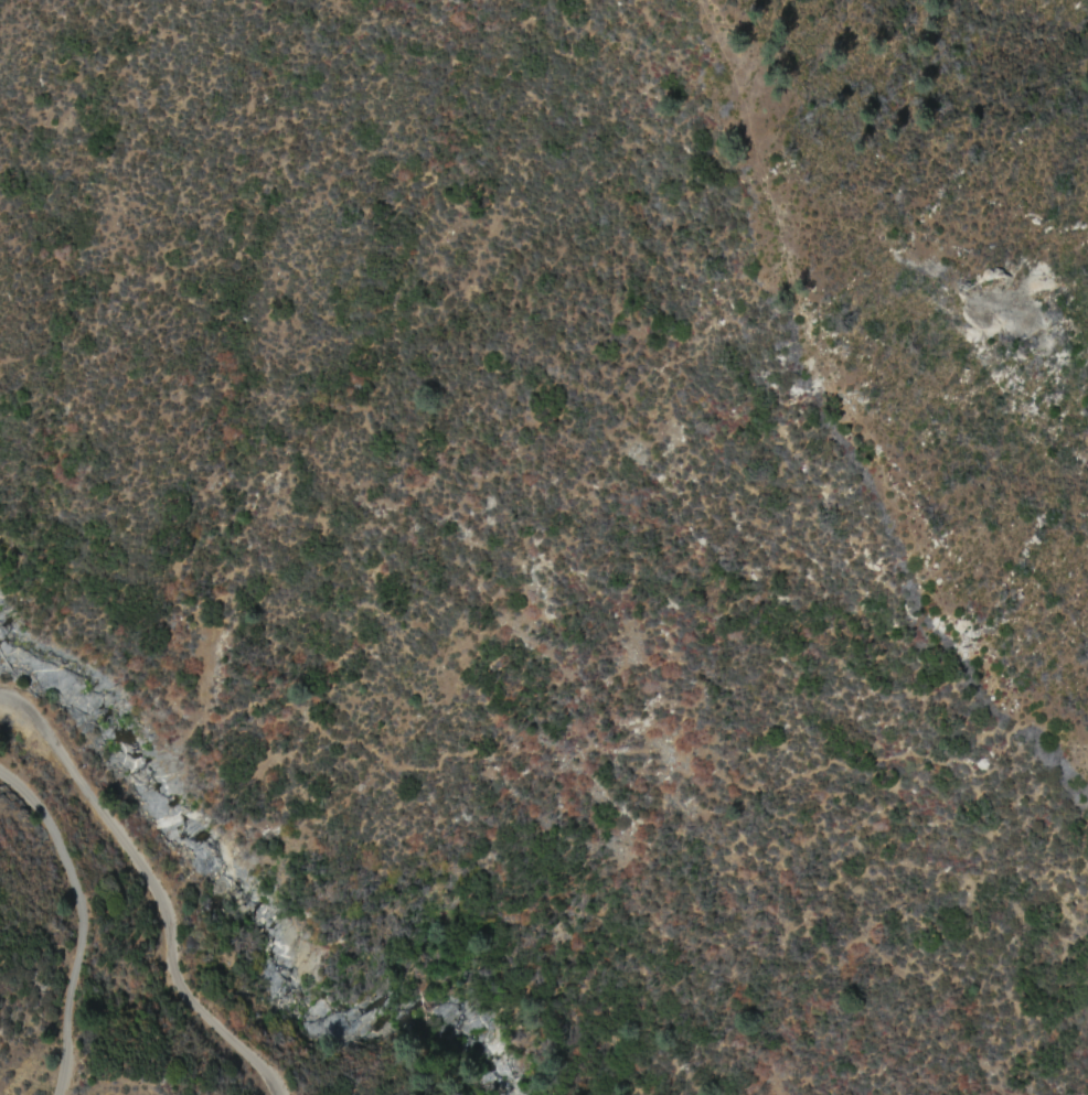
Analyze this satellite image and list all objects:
road: (139, 892)
road: (56, 928)

